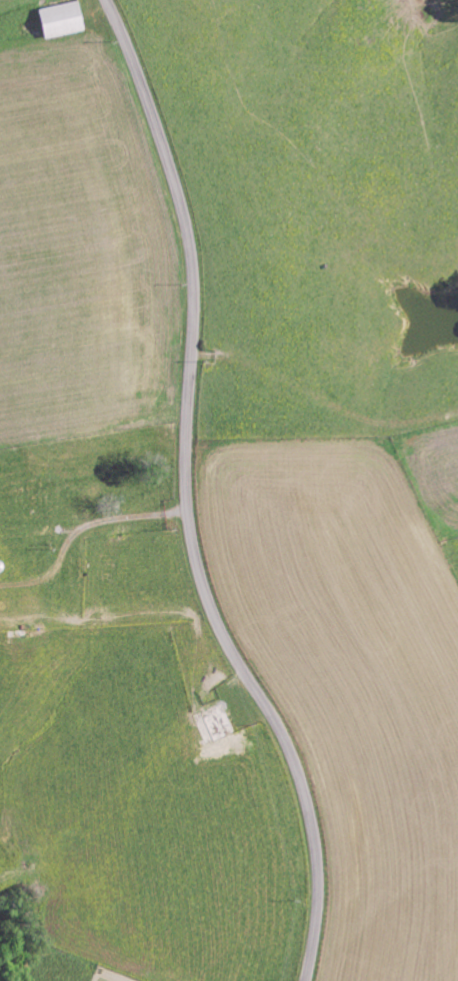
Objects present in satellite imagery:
building: (58, 20)
road: (188, 497)
building: (215, 721)

